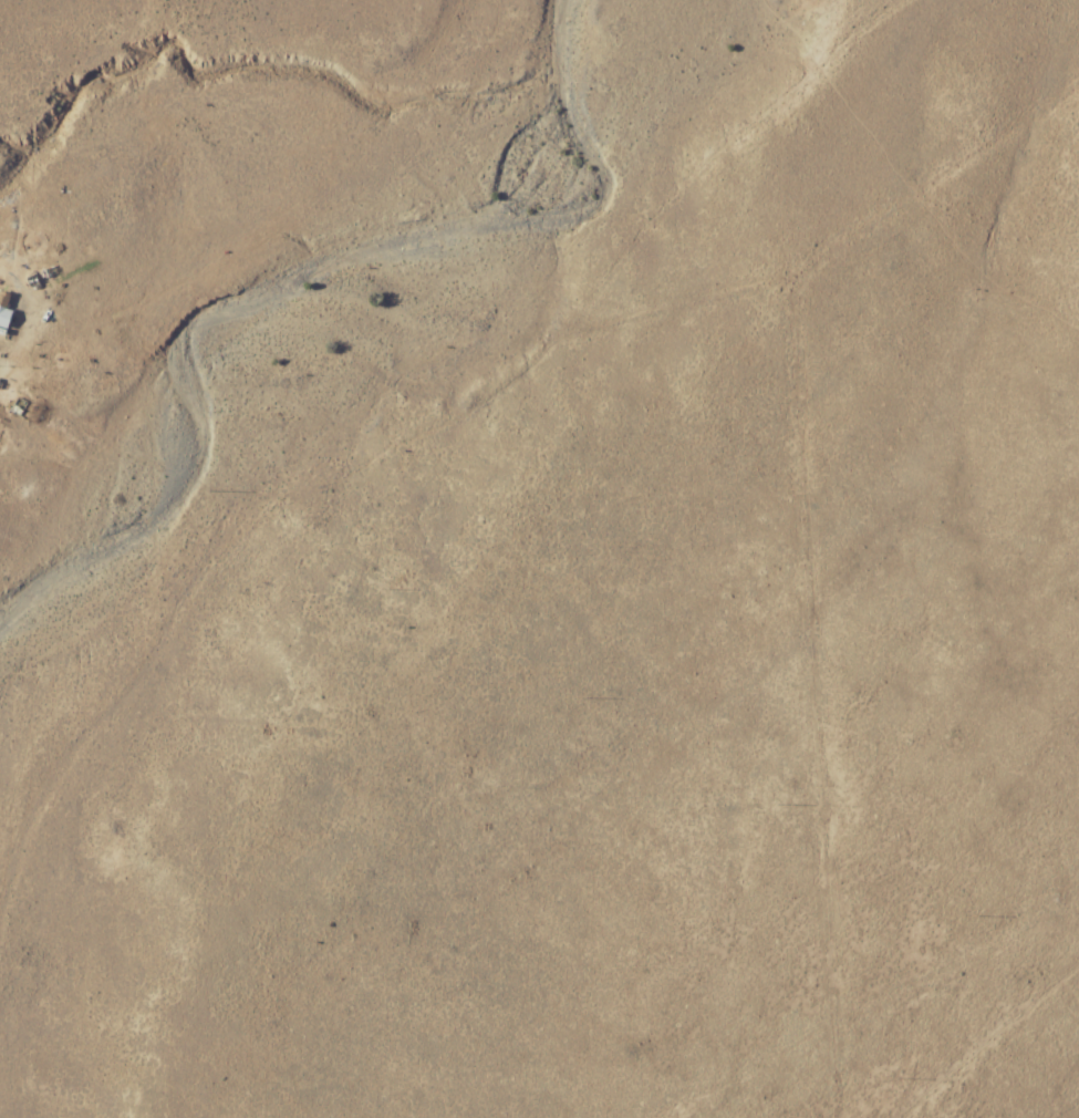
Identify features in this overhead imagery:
river: (310, 282)
building: (3, 303)
road: (184, 375)
building: (25, 405)
road: (333, 467)

